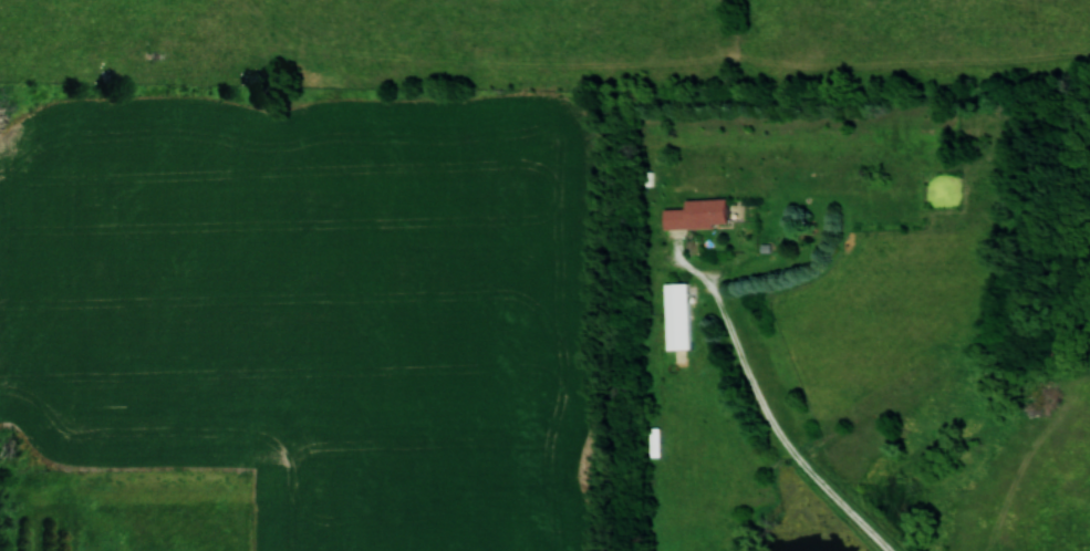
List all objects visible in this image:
building: (696, 215)
building: (675, 315)
road: (769, 415)

